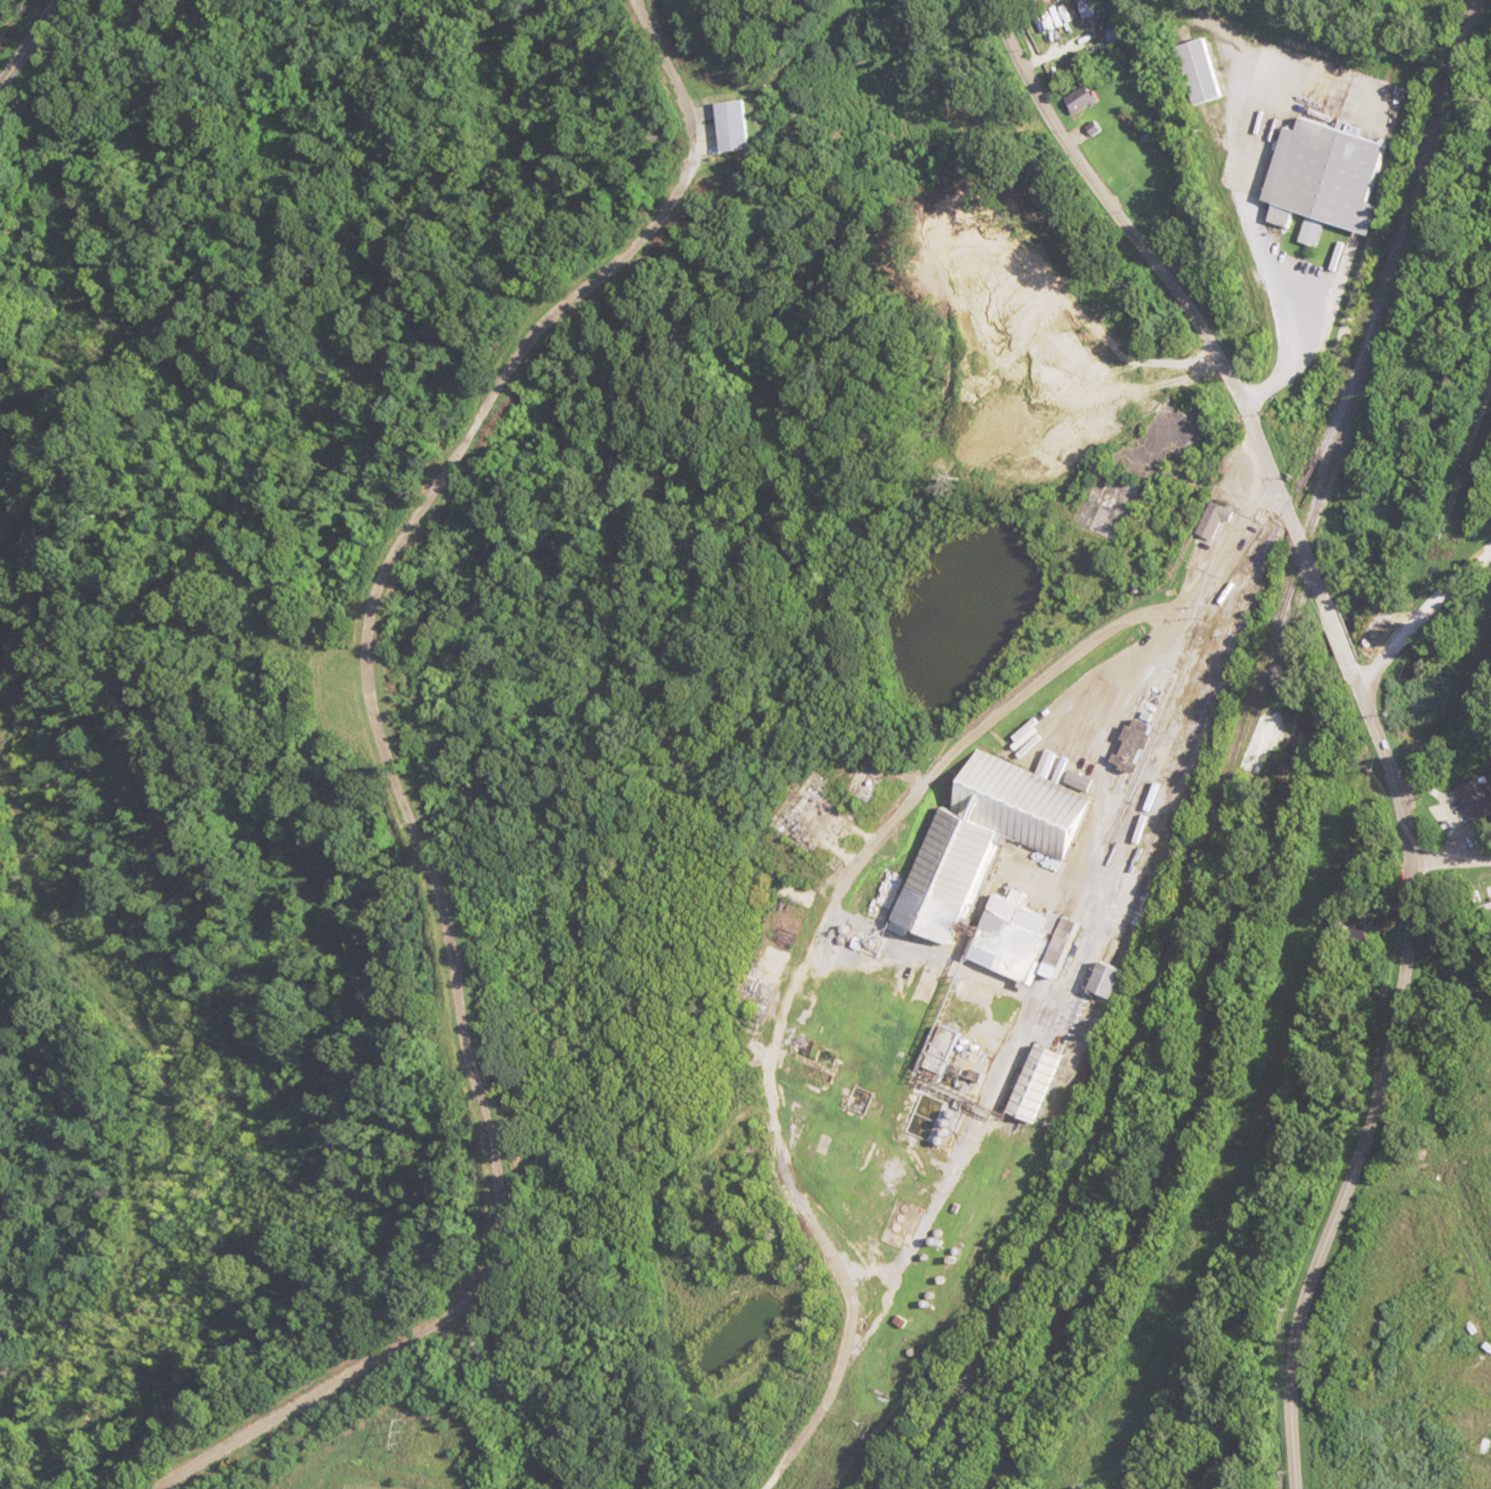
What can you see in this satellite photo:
road: (12, 18)
building: (1205, 71)
building: (1086, 98)
building: (737, 125)
railway: (1423, 167)
building: (1330, 180)
building: (1215, 519)
road: (1423, 617)
railway: (1183, 669)
railway: (1203, 682)
road: (1371, 711)
road: (1453, 858)
building: (963, 866)
building: (1357, 925)
railway: (1168, 929)

